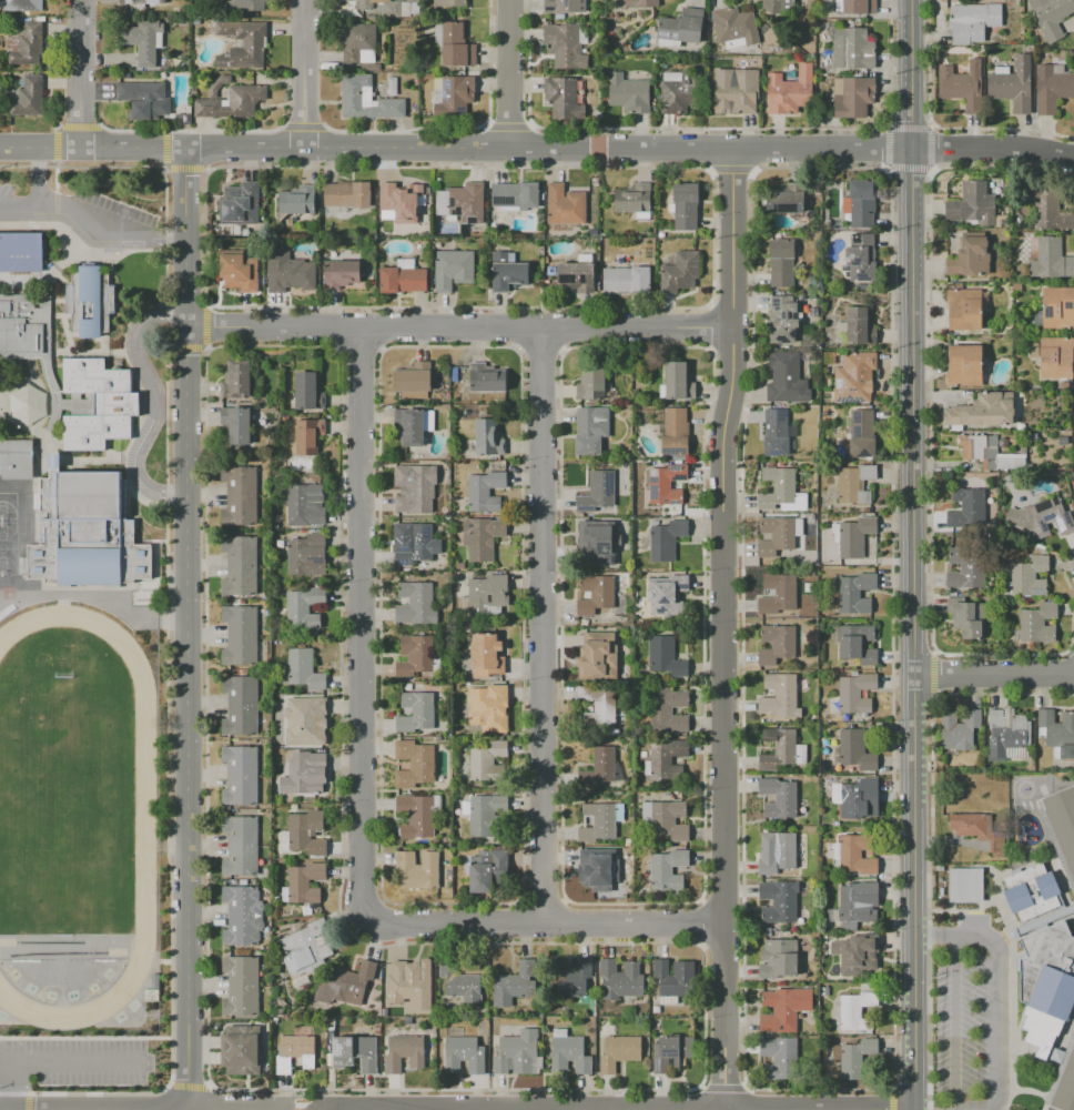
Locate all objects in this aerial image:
building: (143, 1)
building: (640, 2)
building: (449, 3)
building: (23, 4)
building: (244, 4)
building: (565, 6)
building: (777, 6)
building: (855, 6)
building: (388, 7)
building: (1050, 16)
building: (973, 21)
building: (680, 27)
building: (734, 27)
building: (143, 40)
building: (253, 42)
building: (24, 43)
building: (358, 44)
building: (453, 44)
building: (564, 44)
building: (852, 49)
road: (527, 61)
road: (928, 61)
road: (488, 62)
road: (888, 63)
road: (81, 74)
road: (306, 74)
road: (509, 74)
road: (910, 74)
building: (427, 75)
building: (1011, 83)
building: (392, 85)
building: (961, 85)
building: (1052, 88)
building: (736, 90)
building: (790, 90)
building: (628, 92)
building: (681, 92)
building: (28, 97)
building: (853, 97)
building: (455, 98)
building: (563, 98)
building: (144, 99)
building: (230, 99)
building: (365, 99)
road: (302, 124)
road: (486, 124)
road: (529, 124)
road: (930, 124)
road: (78, 127)
road: (507, 127)
road: (908, 127)
road: (708, 128)
road: (403, 129)
road: (191, 131)
road: (55, 143)
road: (886, 147)
road: (930, 148)
road: (992, 149)
road: (19, 150)
road: (60, 150)
road: (134, 150)
road: (164, 150)
road: (548, 151)
road: (81, 165)
road: (460, 165)
road: (819, 167)
road: (908, 167)
road: (184, 168)
road: (206, 169)
road: (731, 169)
road: (884, 169)
road: (162, 170)
road: (753, 170)
road: (39, 175)
road: (55, 175)
building: (347, 193)
building: (514, 195)
building: (634, 198)
building: (786, 199)
building: (297, 200)
parking lot: (7, 202)
road: (20, 202)
building: (397, 202)
building: (462, 202)
building: (861, 202)
building: (239, 204)
building: (972, 204)
building: (566, 205)
building: (685, 205)
road: (55, 206)
building: (1048, 208)
road: (112, 226)
road: (119, 231)
road: (204, 236)
road: (188, 238)
road: (78, 246)
building: (20, 252)
building: (861, 258)
building: (969, 258)
building: (1051, 259)
flagpole: (104, 262)
building: (781, 263)
building: (453, 268)
building: (237, 271)
building: (344, 272)
building: (507, 272)
building: (680, 272)
building: (288, 273)
building: (576, 275)
building: (403, 276)
building: (627, 279)
building: (959, 285)
building: (1017, 286)
building: (89, 301)
road: (209, 306)
building: (966, 307)
building: (1055, 309)
building: (781, 319)
road: (459, 325)
building: (860, 326)
road: (204, 327)
road: (168, 347)
road: (188, 347)
road: (205, 349)
building: (1034, 350)
building: (1056, 359)
building: (964, 365)
building: (69, 376)
building: (412, 376)
building: (485, 376)
building: (854, 376)
building: (235, 379)
building: (677, 381)
building: (590, 382)
building: (786, 384)
building: (306, 390)
building: (1073, 396)
road: (143, 404)
road: (155, 405)
building: (980, 411)
building: (1073, 420)
building: (236, 423)
building: (413, 424)
building: (1020, 426)
building: (590, 430)
building: (675, 431)
building: (776, 432)
building: (861, 433)
building: (307, 434)
building: (487, 436)
building: (1033, 436)
building: (1013, 440)
building: (1063, 441)
building: (1003, 442)
building: (990, 453)
building: (17, 457)
building: (666, 484)
building: (854, 484)
building: (414, 488)
building: (484, 490)
building: (598, 491)
building: (781, 491)
building: (239, 494)
building: (304, 501)
park: (8, 505)
building: (967, 508)
building: (1044, 517)
building: (84, 531)
building: (778, 534)
building: (480, 536)
building: (852, 536)
building: (666, 538)
building: (601, 542)
building: (418, 544)
park: (7, 547)
building: (306, 553)
building: (239, 564)
building: (21, 565)
building: (965, 568)
building: (810, 572)
building: (1027, 577)
building: (855, 593)
park: (8, 594)
building: (484, 594)
building: (596, 594)
building: (666, 594)
building: (778, 594)
building: (415, 601)
building: (303, 606)
building: (966, 616)
road: (545, 623)
building: (1037, 623)
road: (365, 625)
road: (165, 627)
road: (723, 629)
road: (913, 629)
building: (241, 635)
building: (855, 643)
building: (776, 644)
building: (416, 654)
building: (485, 654)
building: (597, 656)
building: (665, 656)
building: (302, 669)
road: (994, 675)
building: (778, 694)
building: (852, 694)
building: (240, 704)
building: (487, 705)
building: (598, 705)
building: (416, 710)
building: (668, 710)
road: (204, 716)
road: (190, 718)
building: (305, 720)
building: (959, 729)
building: (1006, 733)
building: (1057, 733)
building: (781, 749)
building: (855, 750)
building: (487, 759)
building: (667, 759)
building: (413, 761)
building: (600, 768)
building: (305, 773)
building: (240, 774)
park: (1024, 788)
building: (778, 797)
building: (859, 799)
building: (462, 804)
building: (294, 807)
park: (63, 809)
park: (60, 810)
building: (416, 813)
track: (144, 815)
building: (485, 815)
building: (667, 818)
building: (600, 820)
building: (1062, 823)
building: (977, 829)
building: (303, 833)
building: (240, 844)
building: (1055, 846)
building: (776, 851)
building: (857, 854)
building: (939, 867)
building: (416, 868)
building: (486, 869)
building: (667, 869)
building: (596, 872)
building: (302, 882)
building: (964, 885)
road: (1060, 886)
building: (1032, 891)
building: (777, 904)
building: (858, 904)
road: (964, 910)
building: (242, 914)
road: (1041, 919)
road: (546, 922)
building: (306, 947)
building: (858, 955)
building: (778, 958)
building: (620, 978)
building: (571, 979)
building: (675, 979)
building: (459, 980)
building: (411, 982)
road: (1011, 982)
building: (346, 983)
building: (514, 983)
building: (241, 985)
road: (999, 985)
building: (1046, 985)
building: (824, 991)
building: (656, 1009)
building: (855, 1010)
building: (778, 1012)
road: (953, 1023)
parking lot: (960, 1025)
road: (85, 1038)
building: (240, 1049)
road: (1056, 1049)
building: (294, 1051)
building: (355, 1051)
building: (404, 1051)
building: (618, 1051)
building: (516, 1052)
building: (568, 1052)
building: (672, 1052)
building: (465, 1053)
building: (853, 1057)
building: (779, 1058)
building: (1058, 1069)
parking lot: (80, 1074)
road: (79, 1079)
road: (186, 1083)
road: (206, 1083)
building: (1065, 1086)
road: (1036, 1091)
road: (4, 1092)
road: (85, 1092)
road: (27, 1101)
road: (297, 1104)

